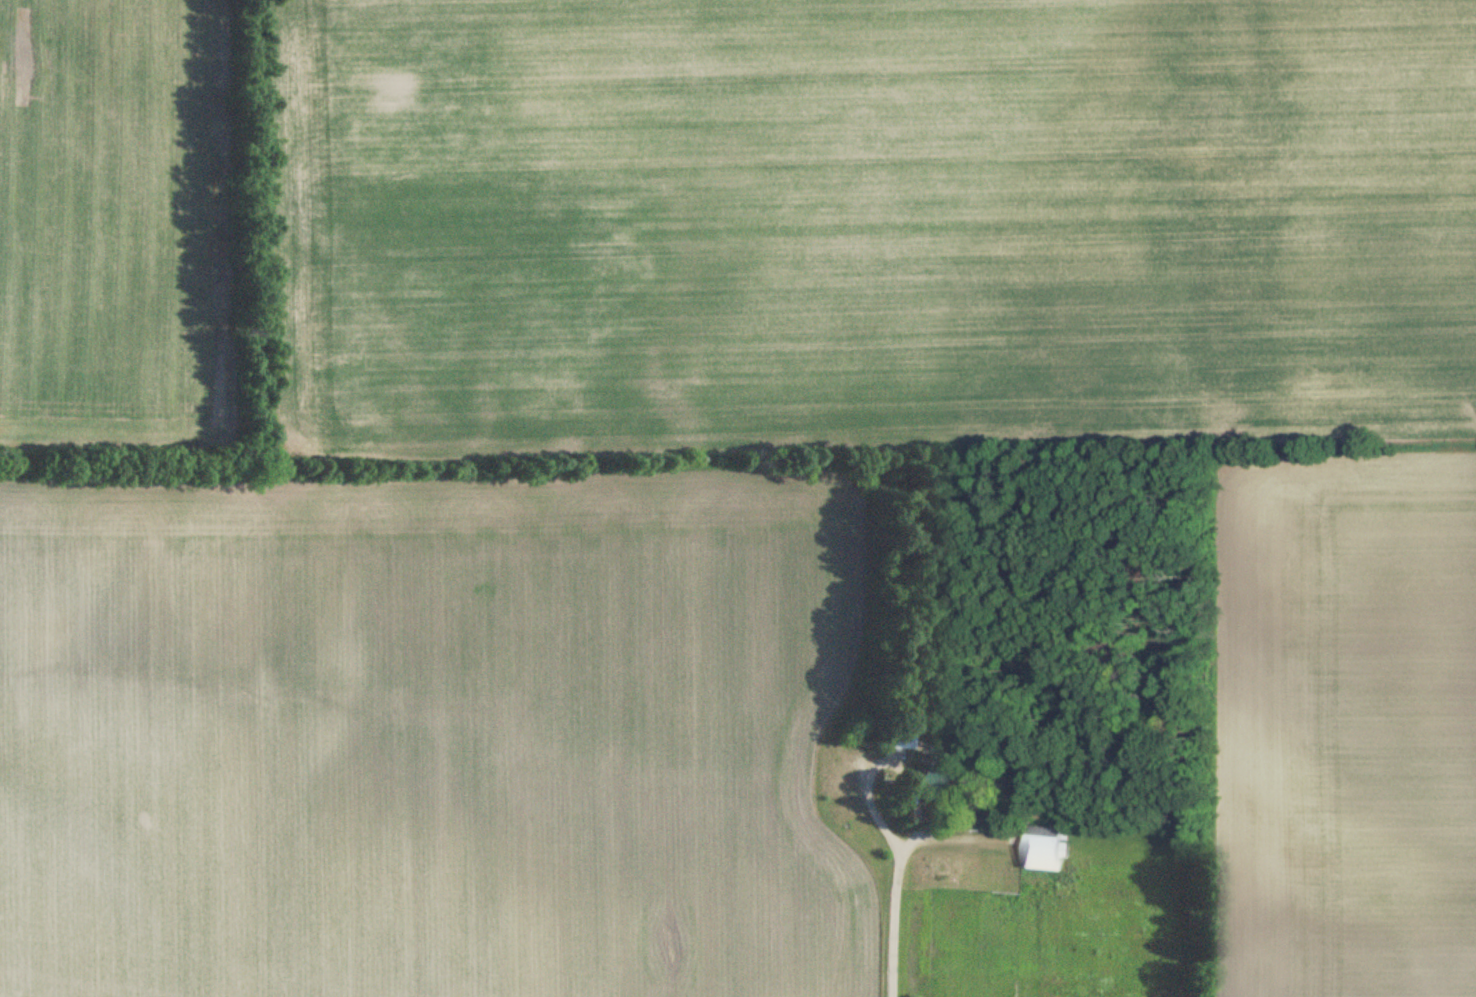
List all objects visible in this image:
building: (930, 778)
road: (952, 834)
building: (1040, 844)
road: (899, 867)

